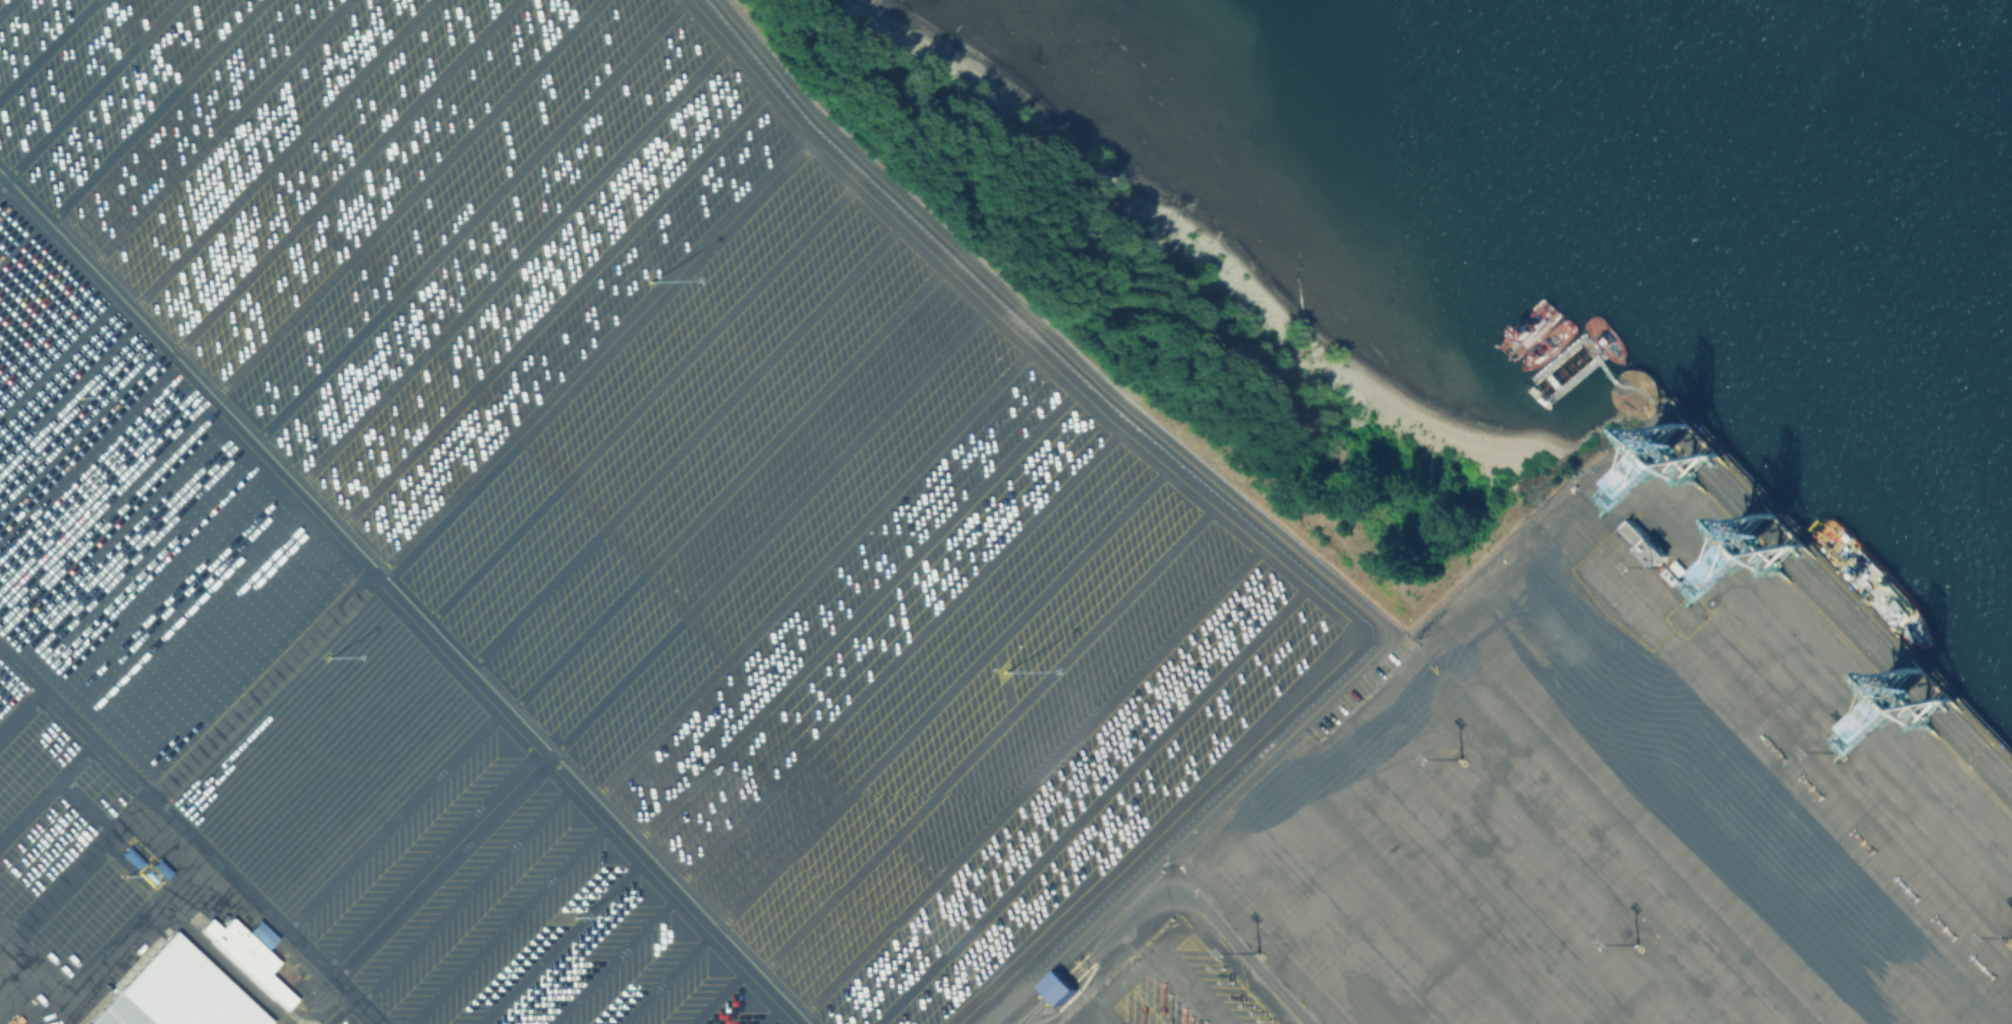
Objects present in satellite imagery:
road: (5, 5)
road: (47, 48)
road: (93, 89)
road: (155, 110)
road: (219, 133)
road: (283, 155)
road: (345, 176)
road: (409, 198)
road: (469, 220)
road: (512, 261)
road: (555, 307)
road: (598, 352)
road: (644, 399)
road: (688, 444)
road: (729, 486)
road: (1221, 511)
road: (771, 529)
building: (1644, 542)
road: (814, 570)
railway: (1841, 583)
road: (406, 597)
road: (857, 613)
railway: (1828, 622)
road: (901, 655)
road: (23, 666)
road: (943, 695)
road: (988, 738)
road: (1030, 778)
road: (48, 787)
road: (1091, 802)
road: (87, 805)
road: (129, 816)
road: (397, 816)
road: (191, 832)
road: (441, 862)
road: (129, 864)
road: (1168, 887)
road: (57, 889)
road: (469, 890)
road: (157, 897)
road: (510, 918)
road: (563, 938)
road: (615, 956)
building: (244, 959)
road: (224, 964)
road: (667, 974)
road: (17, 982)
building: (1058, 986)
road: (81, 987)
road: (721, 992)
building: (1071, 1002)
road: (776, 1011)
building: (115, 1013)

